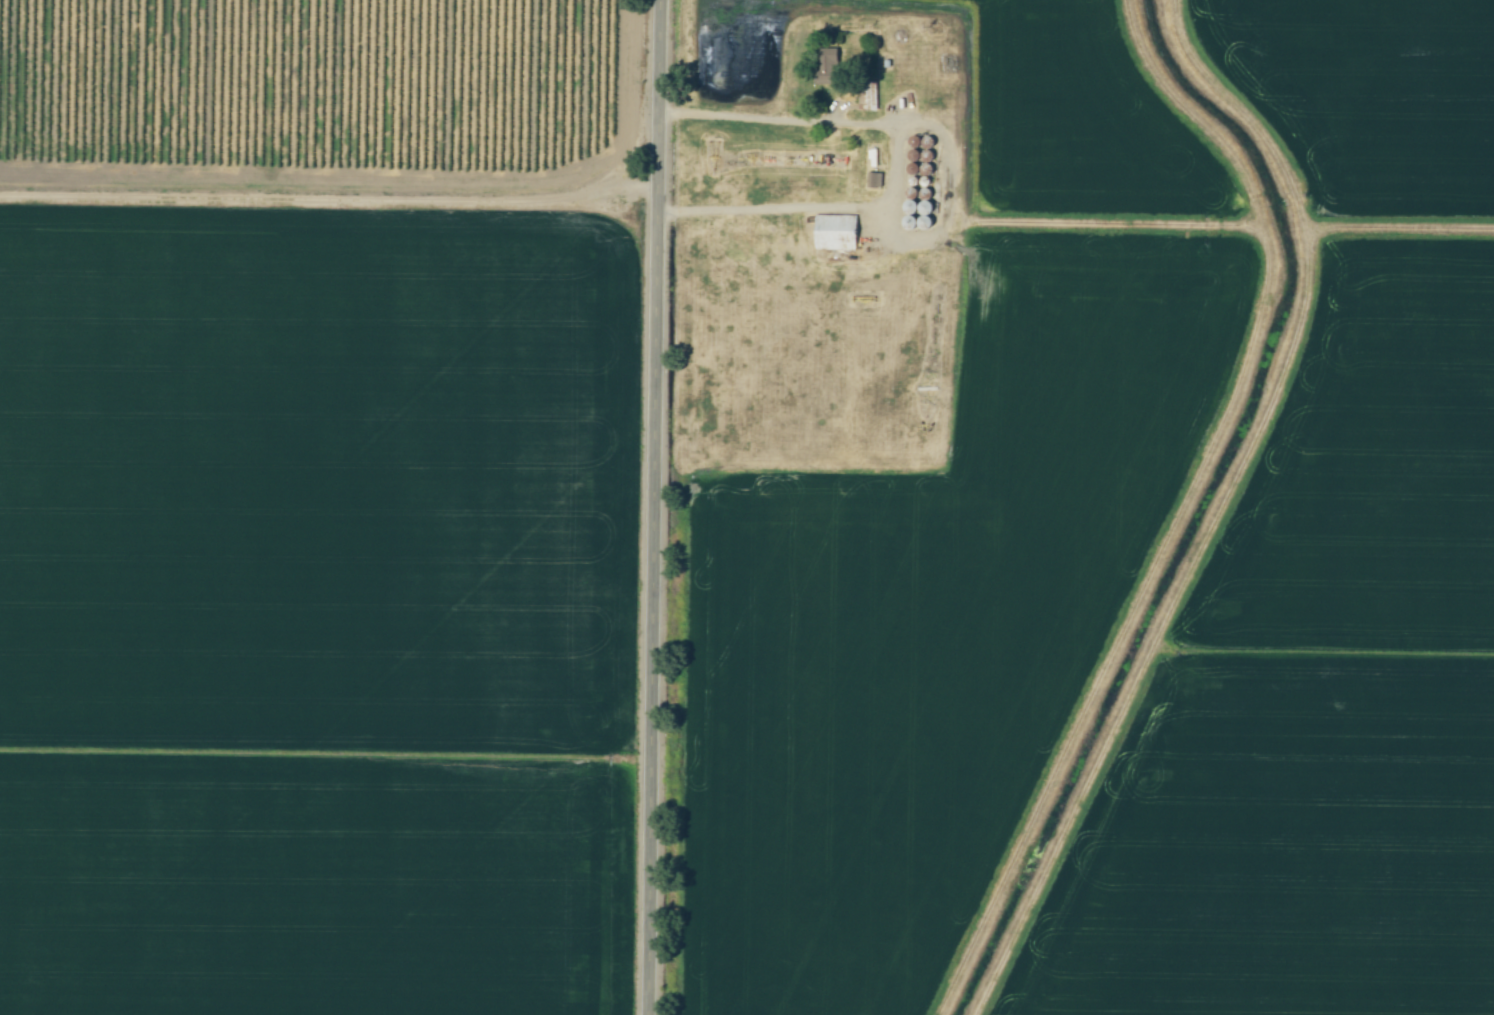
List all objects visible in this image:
crop: (1360, 100)
road: (900, 165)
road: (653, 507)

